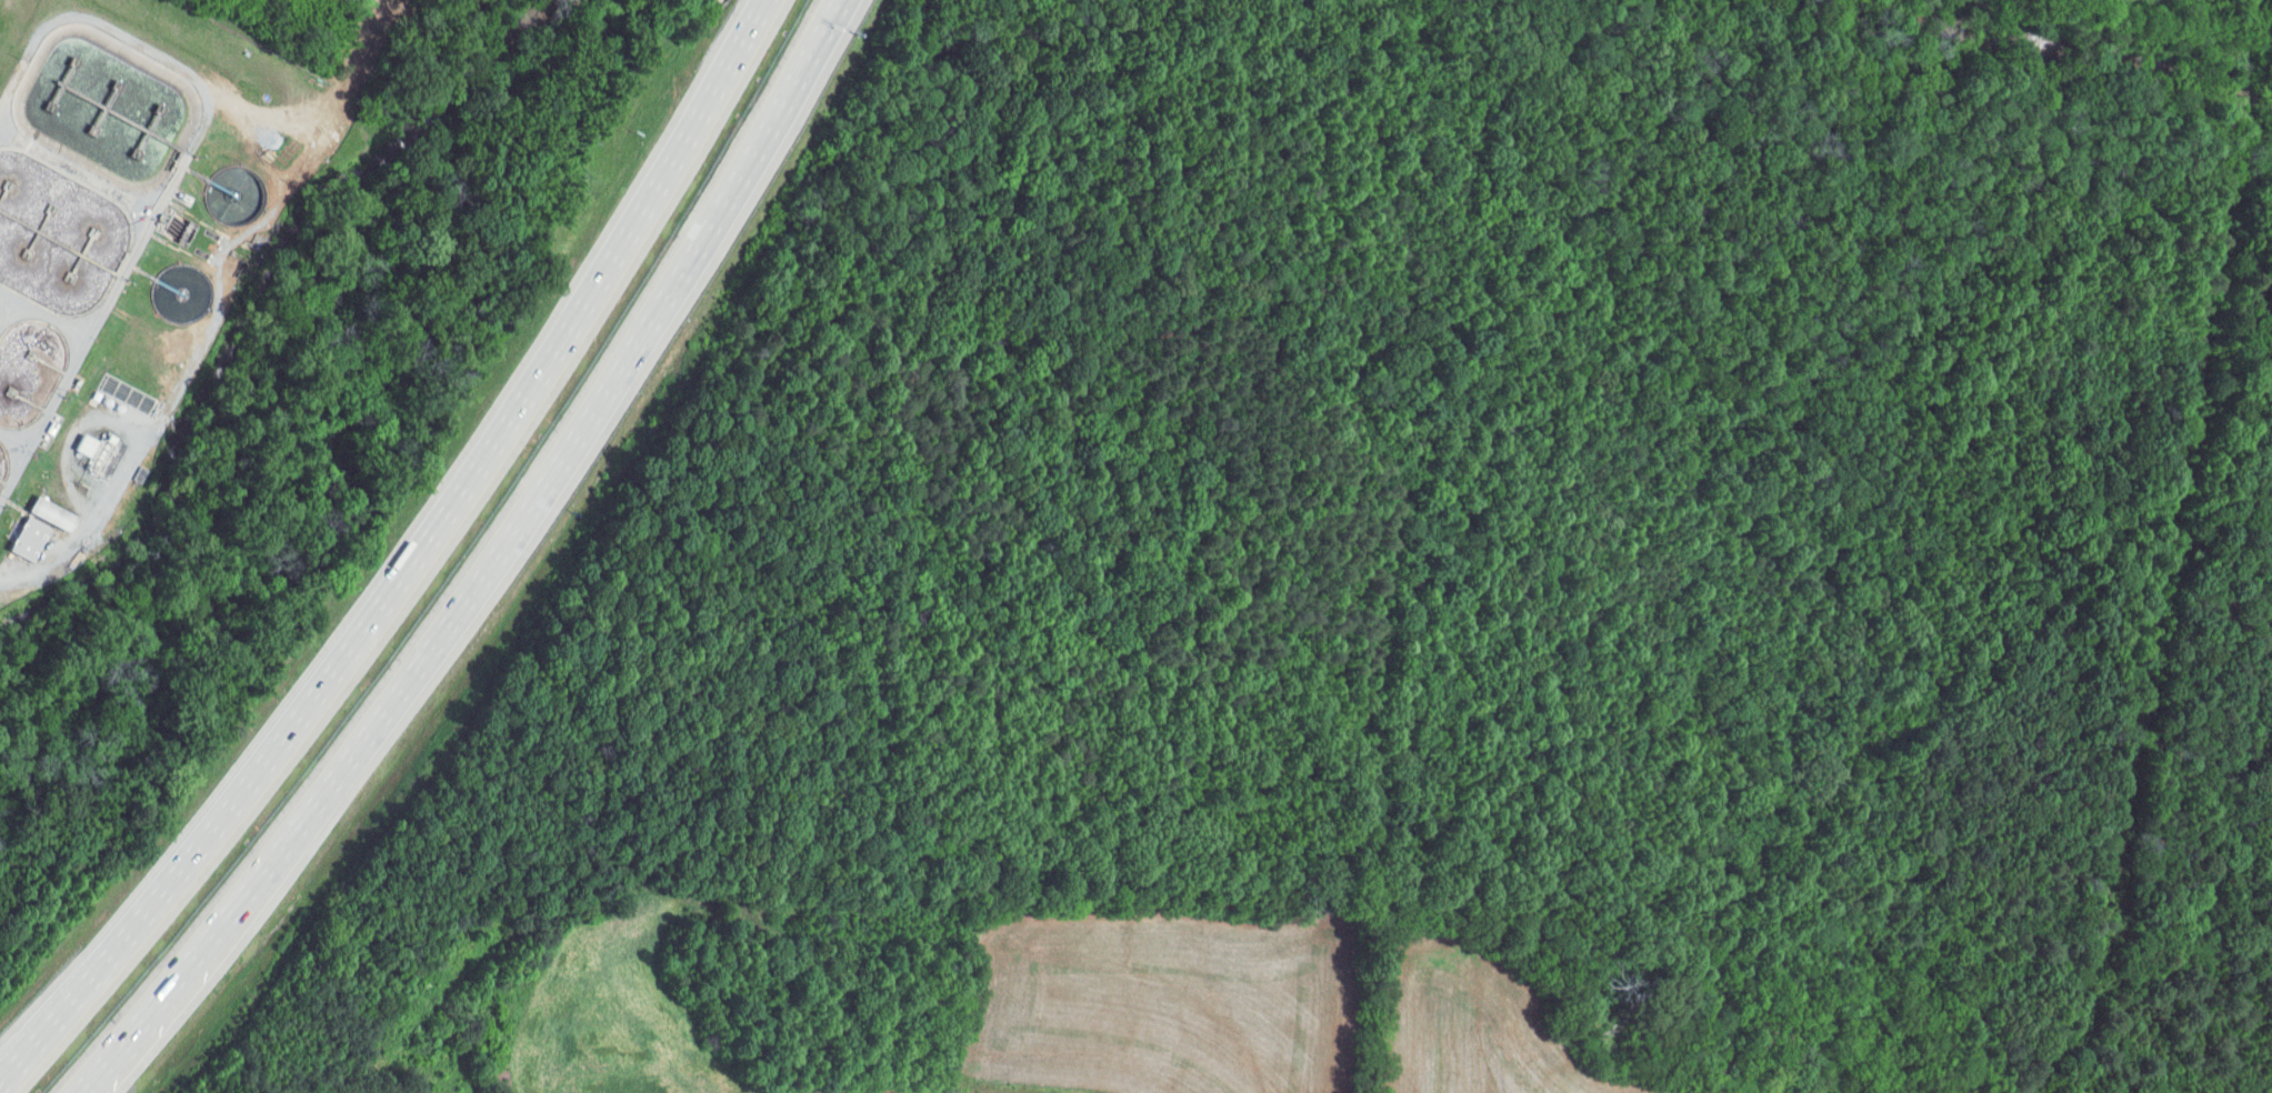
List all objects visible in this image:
road: (608, 263)
road: (670, 281)
road: (116, 423)
building: (43, 513)
building: (20, 539)
road: (50, 564)
road: (230, 809)
road: (290, 830)
road: (47, 1022)
road: (74, 1092)

